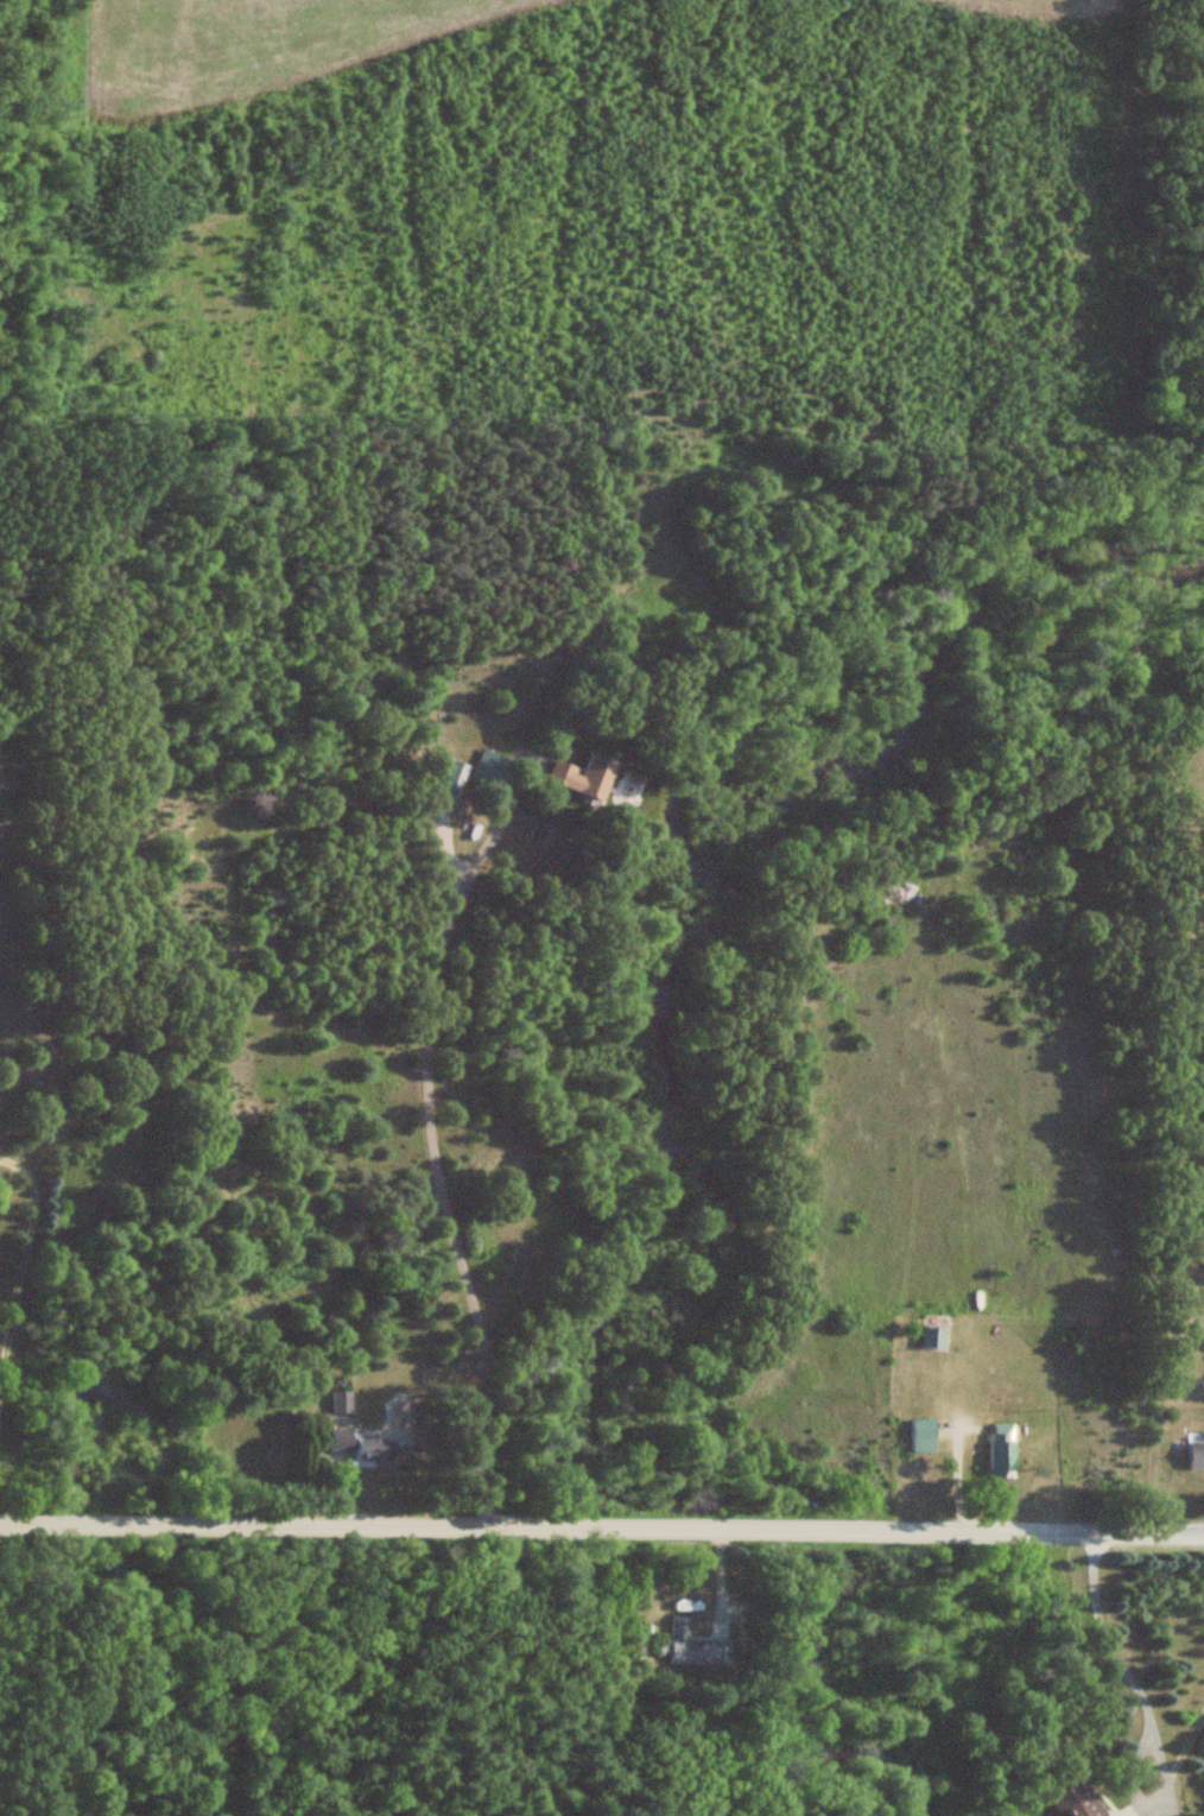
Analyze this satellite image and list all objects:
building: (492, 767)
building: (582, 774)
road: (146, 884)
road: (432, 1146)
road: (23, 1263)
building: (932, 1337)
building: (342, 1400)
building: (923, 1436)
building: (365, 1448)
building: (1002, 1450)
building: (1195, 1455)
road: (602, 1525)
building: (695, 1646)
road: (1136, 1687)
building: (1073, 1799)

